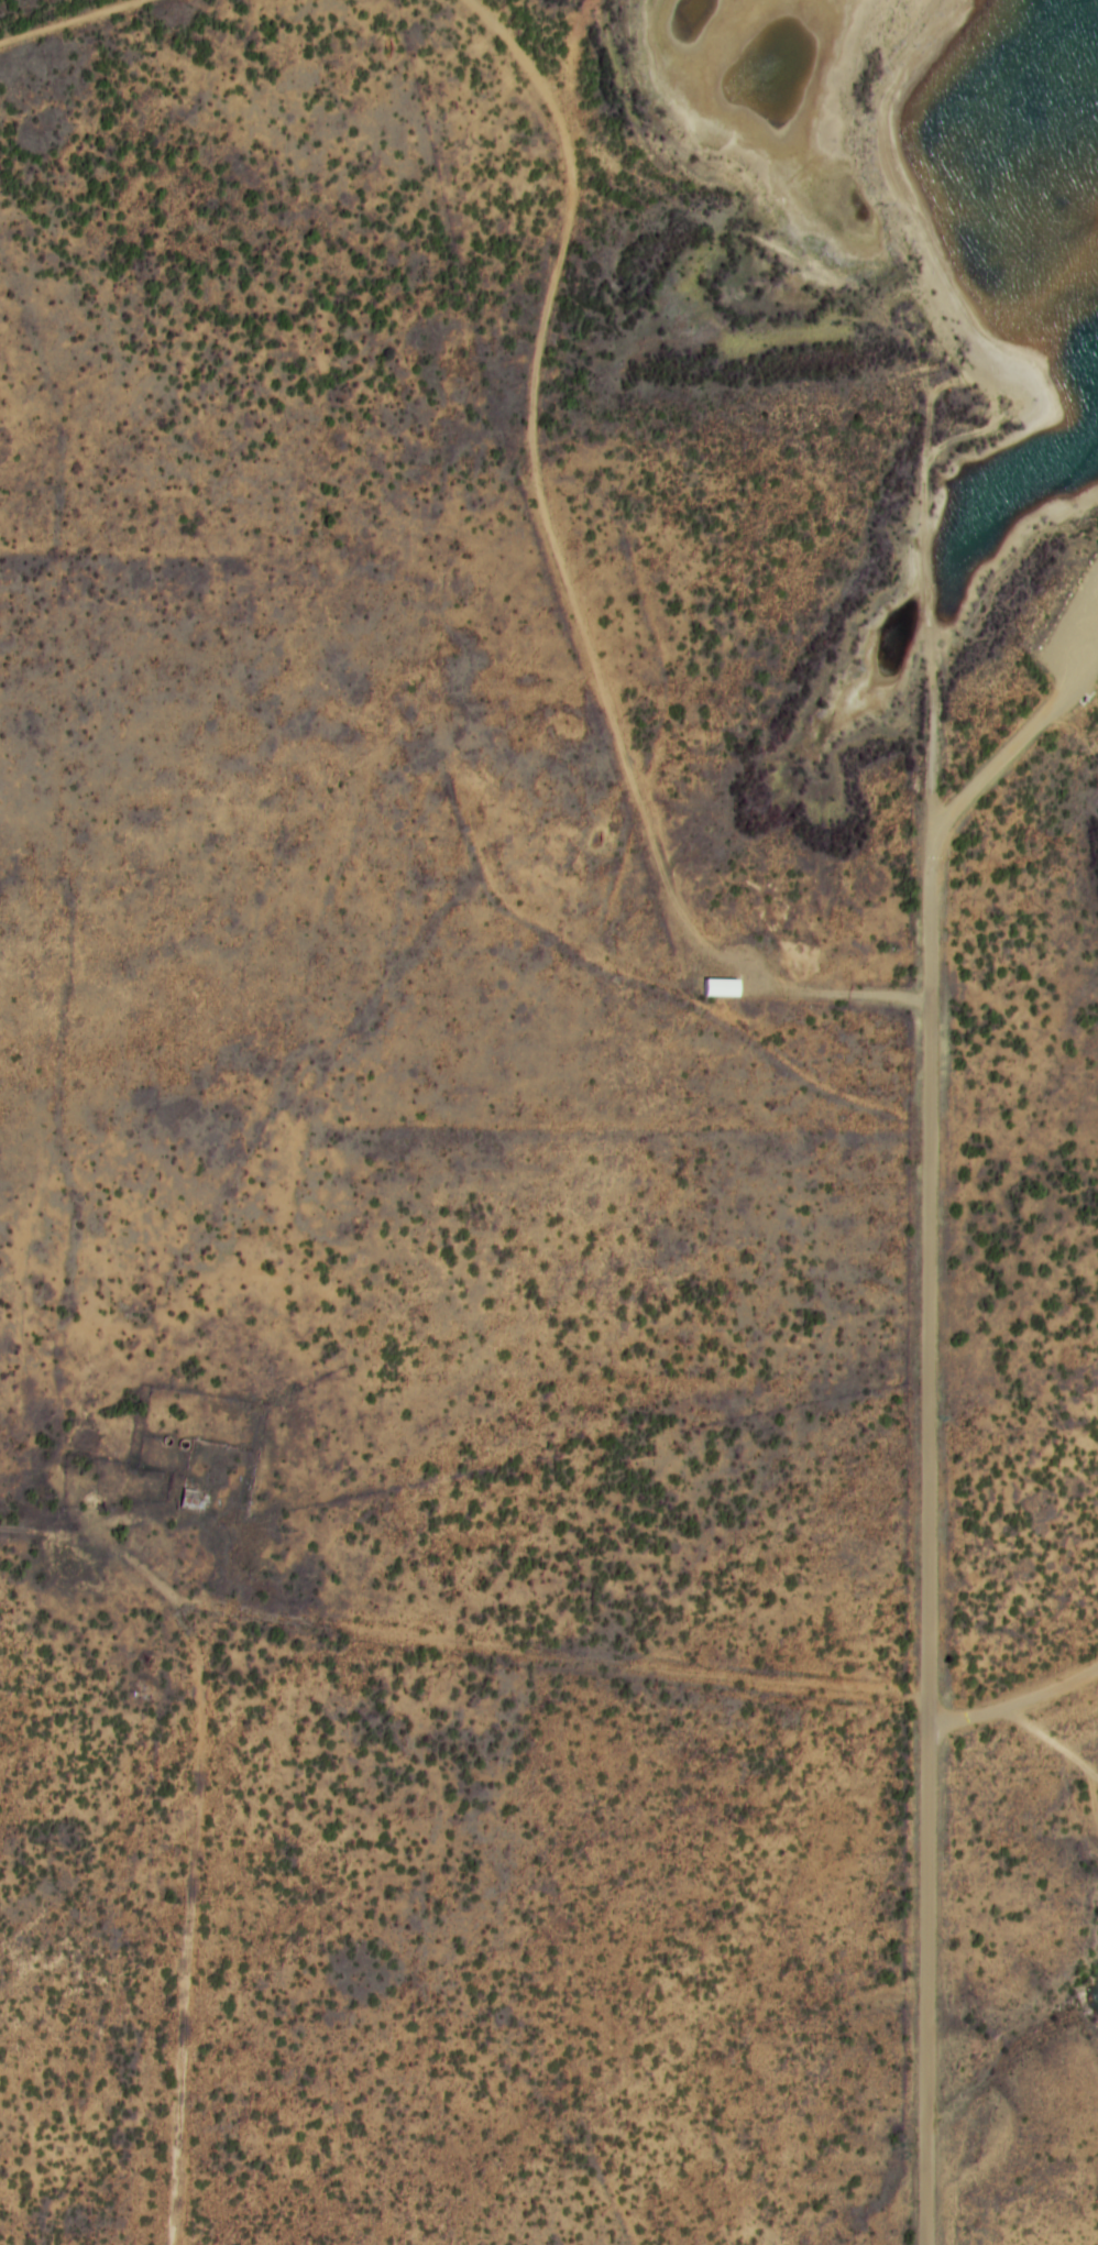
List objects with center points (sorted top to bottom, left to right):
road: (53, 11)
road: (579, 582)
building: (721, 989)
road: (927, 1409)
building: (193, 1500)
road: (177, 1855)

